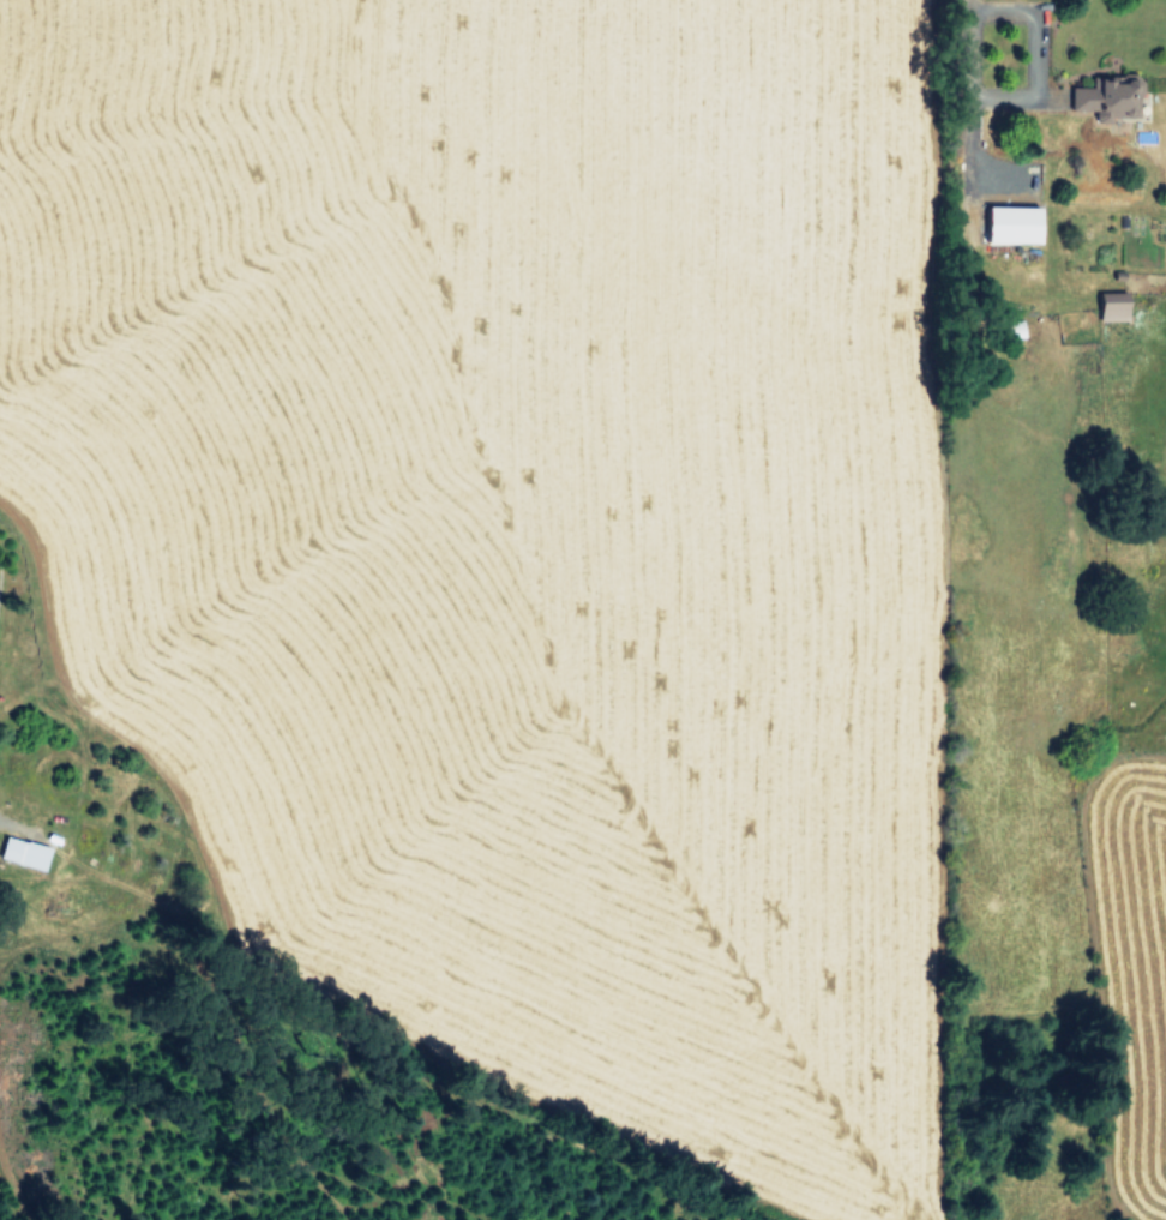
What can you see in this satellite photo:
road: (978, 85)
building: (1106, 97)
building: (1011, 223)
building: (1111, 305)
crop: (625, 540)
building: (23, 852)

